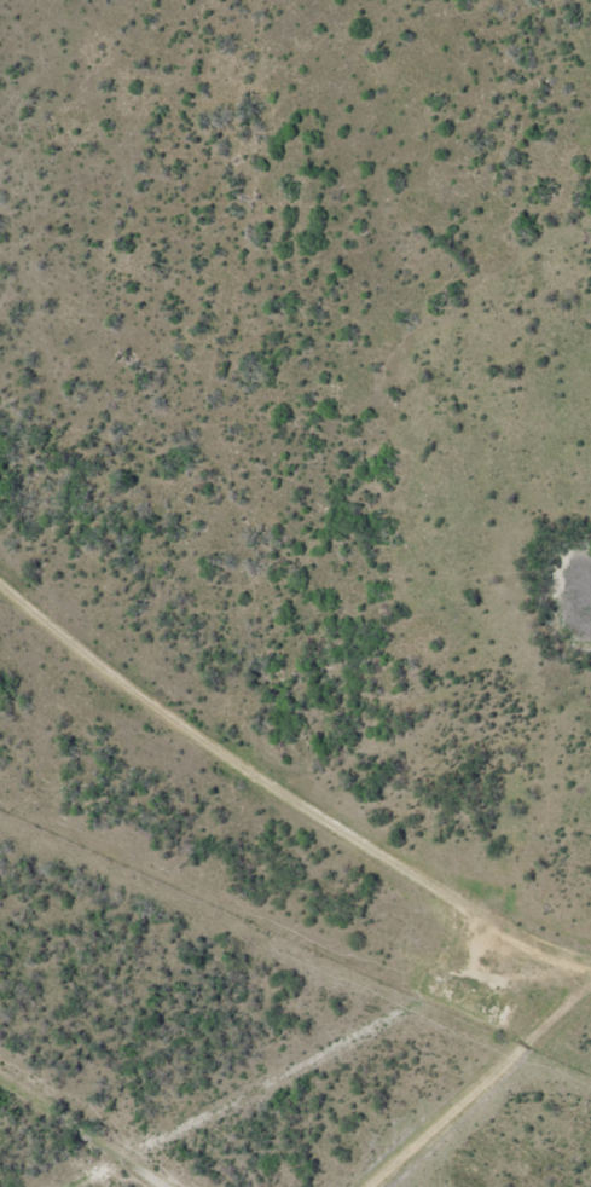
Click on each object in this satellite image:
building: (486, 1008)
storage tank: (486, 1008)

